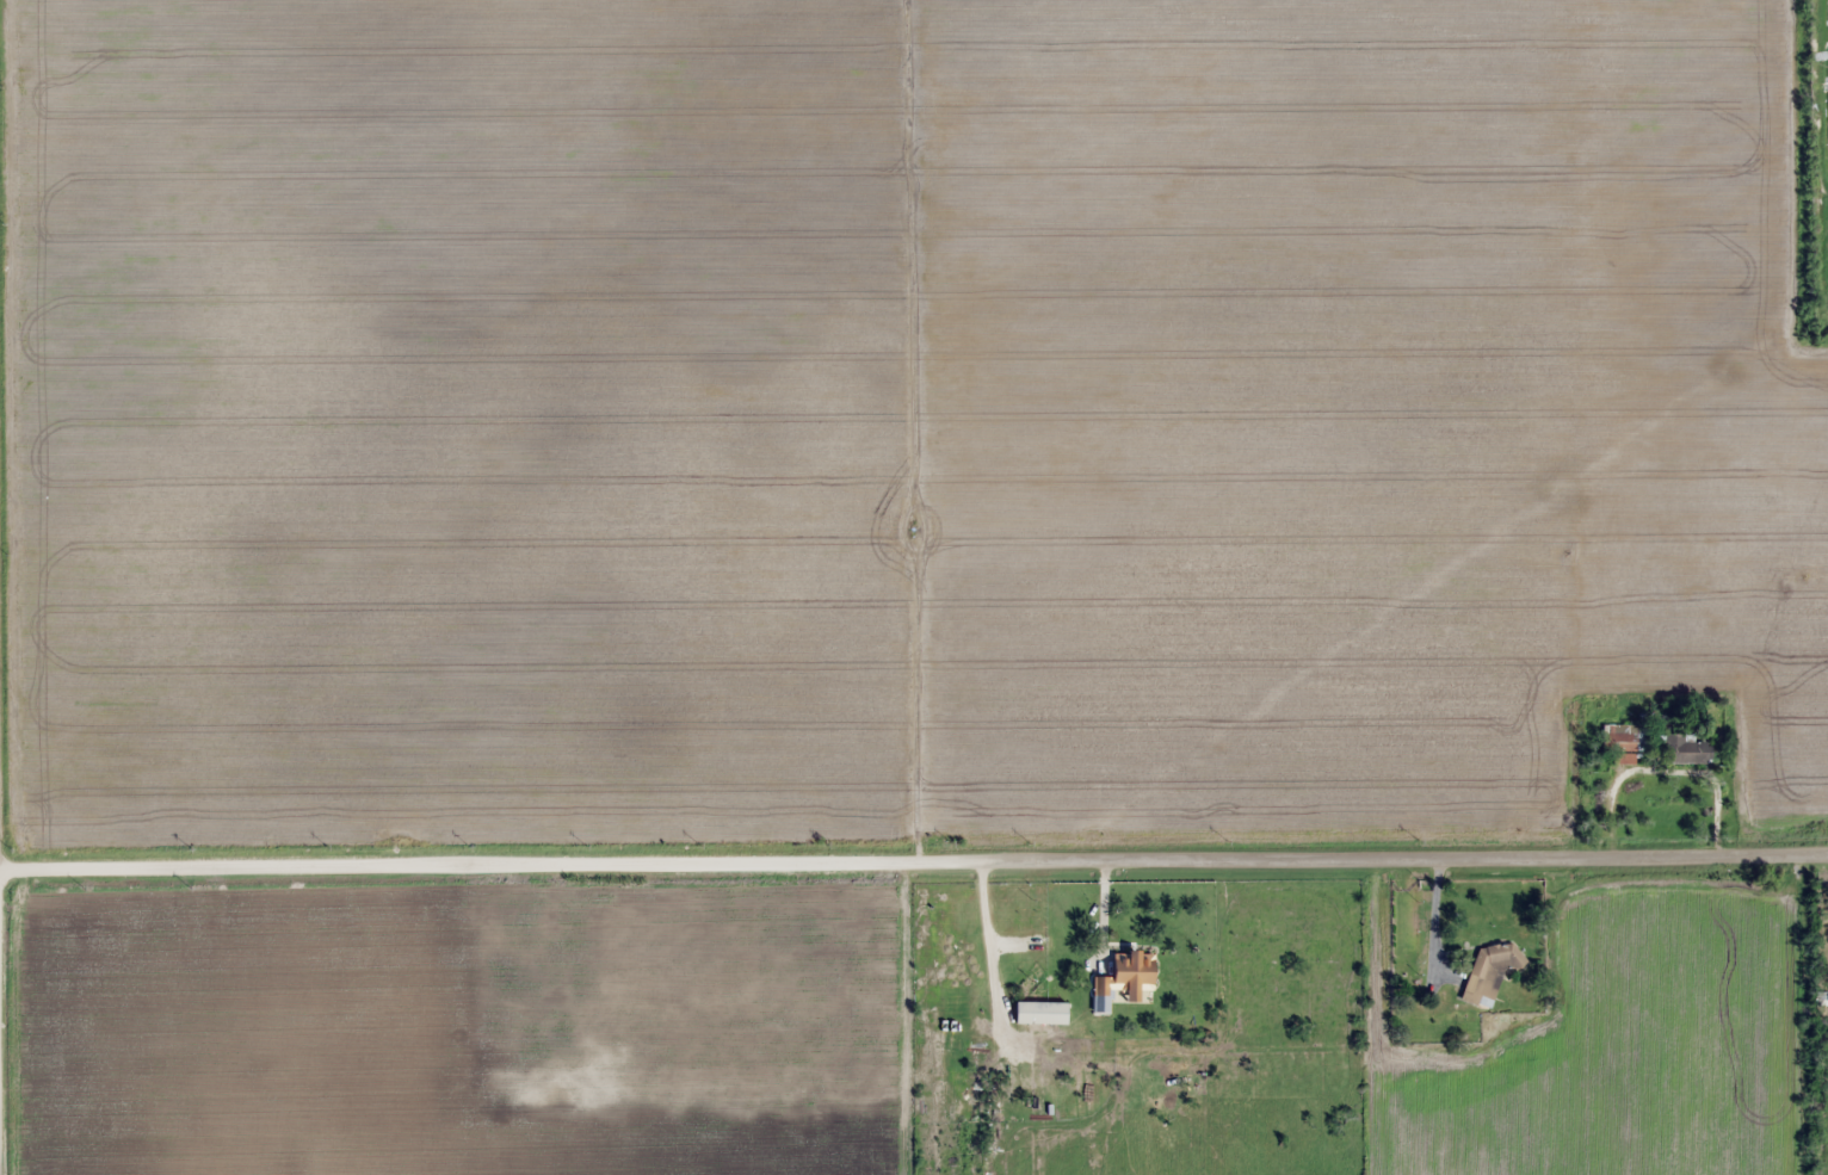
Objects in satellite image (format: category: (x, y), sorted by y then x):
building: (1622, 736)
building: (1684, 748)
road: (914, 854)
building: (1489, 970)
building: (1124, 973)
building: (1038, 1013)

